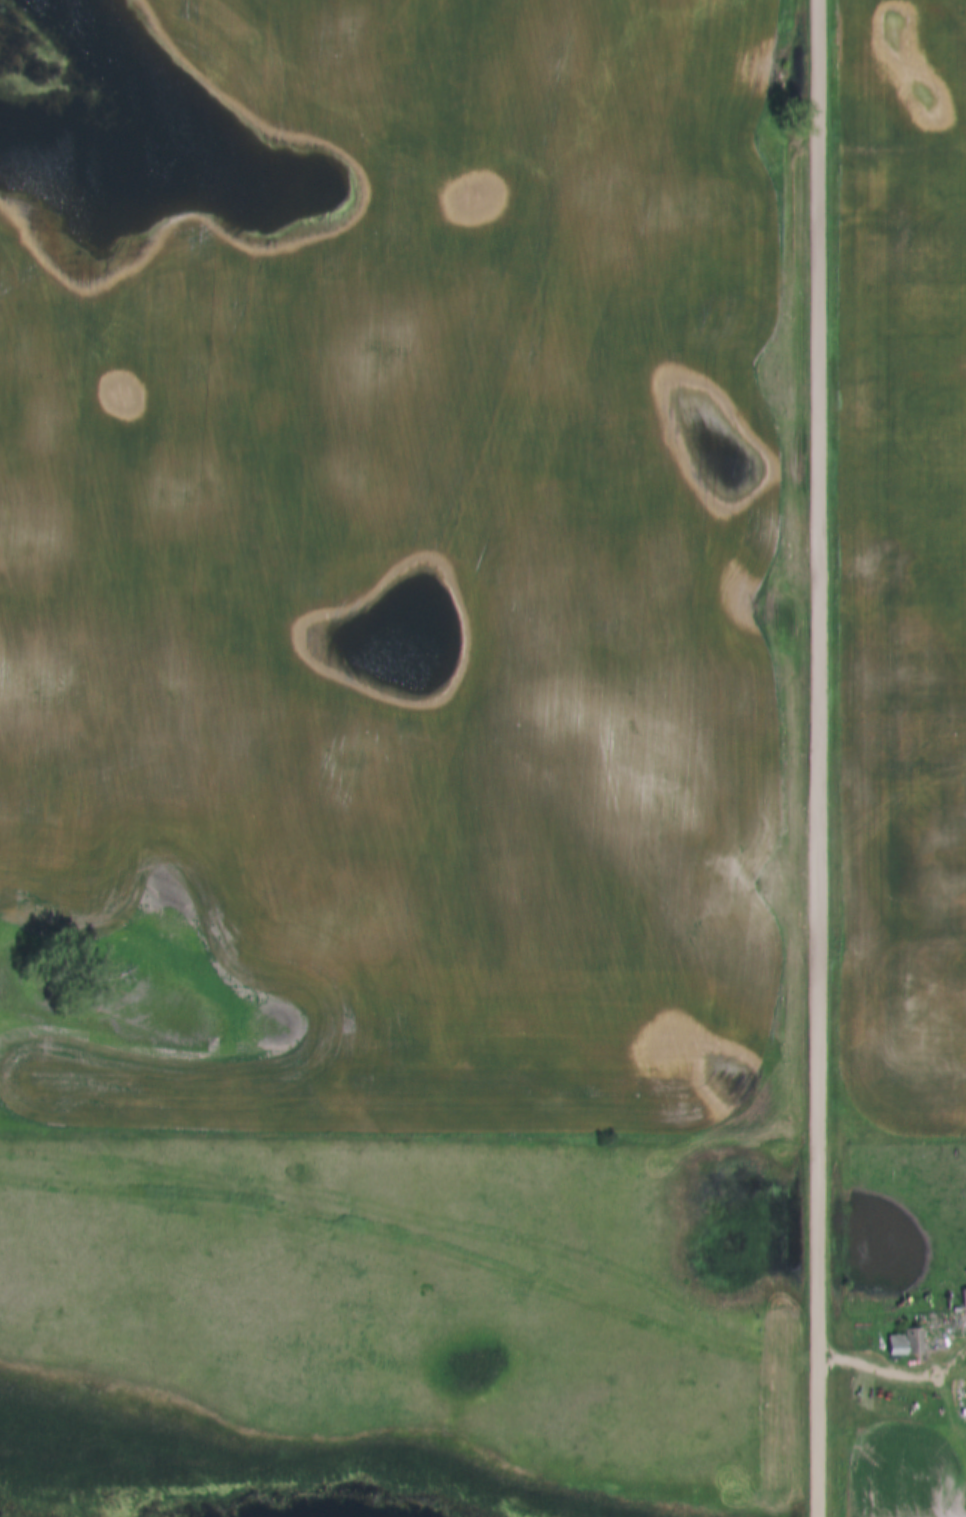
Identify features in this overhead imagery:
road: (818, 758)
building: (902, 1342)
road: (895, 1375)

